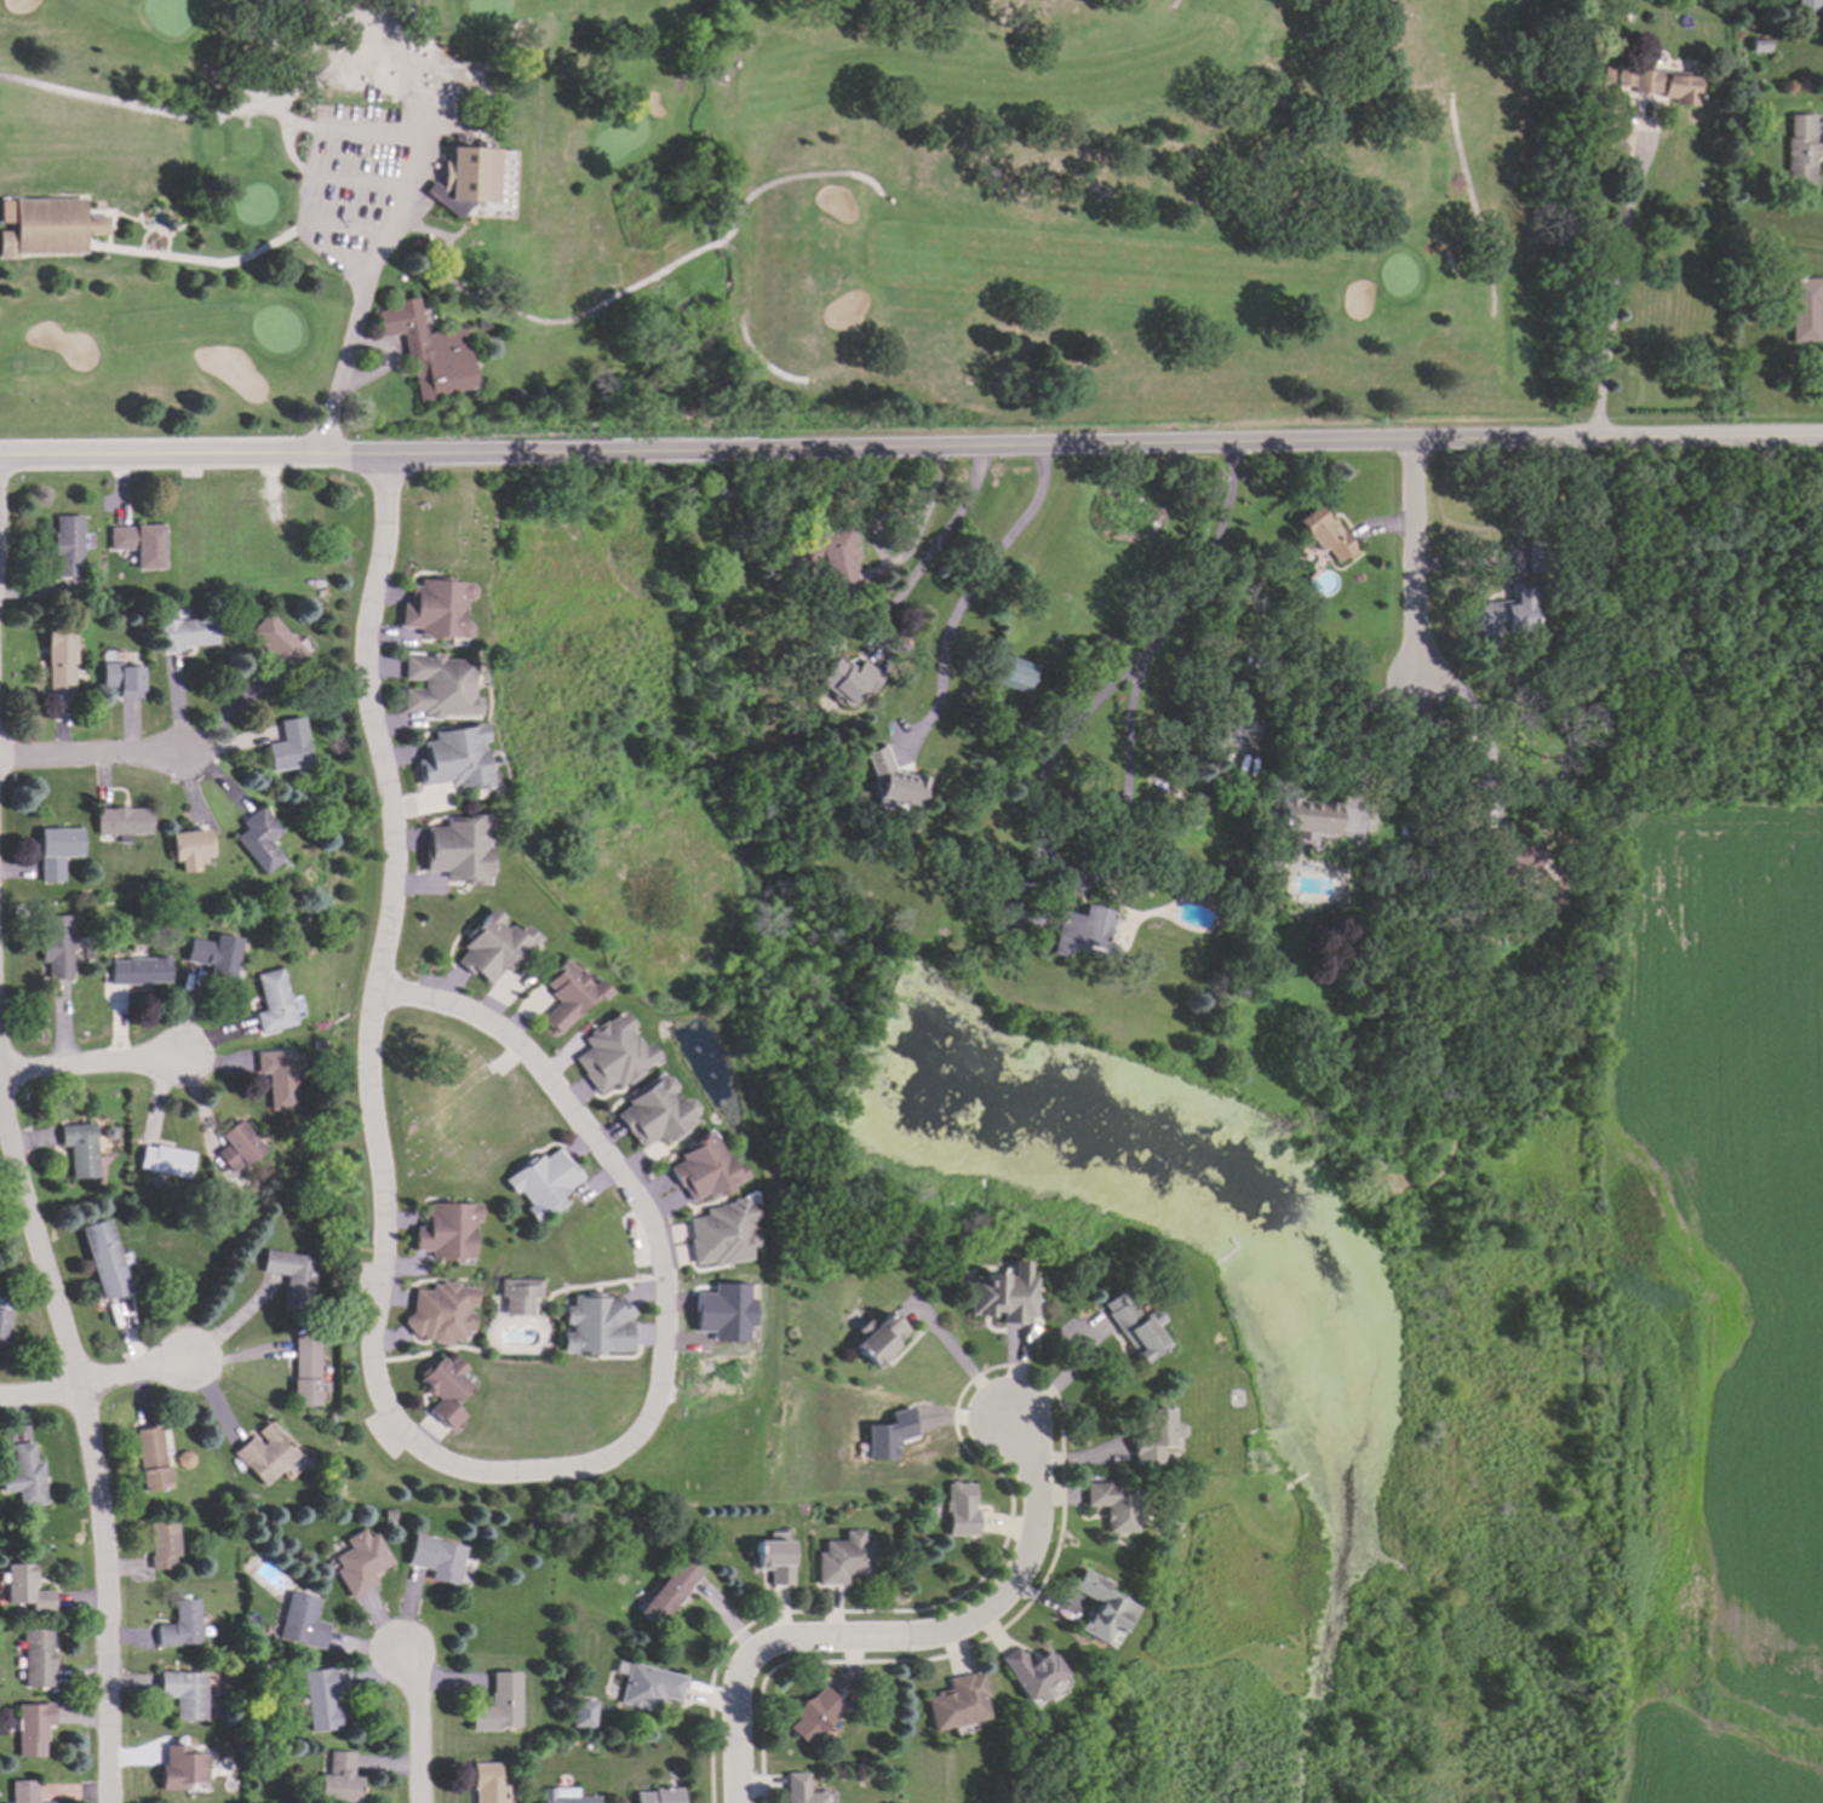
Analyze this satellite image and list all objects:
building: (340, 4)
building: (1800, 4)
building: (1755, 44)
building: (1604, 74)
building: (1658, 82)
building: (435, 98)
building: (460, 113)
road: (408, 119)
building: (1801, 147)
parking lot: (356, 170)
building: (472, 180)
park: (770, 216)
building: (47, 225)
road: (344, 229)
road: (1612, 282)
building: (1801, 308)
building: (423, 349)
road: (1567, 438)
road: (987, 446)
road: (494, 455)
road: (162, 459)
building: (1322, 533)
building: (137, 544)
road: (1412, 544)
building: (63, 545)
road: (927, 550)
building: (1537, 553)
building: (819, 557)
building: (167, 591)
road: (962, 593)
building: (432, 608)
building: (1248, 611)
building: (1500, 614)
building: (182, 632)
building: (275, 647)
building: (57, 658)
building: (1274, 662)
building: (1007, 671)
building: (119, 678)
building: (843, 679)
building: (434, 685)
road: (1388, 694)
road: (1485, 739)
building: (285, 745)
road: (1354, 745)
road: (1045, 757)
road: (91, 758)
building: (449, 758)
building: (887, 782)
building: (812, 814)
building: (1303, 815)
building: (120, 820)
building: (1401, 828)
building: (256, 838)
building: (187, 848)
building: (51, 850)
building: (453, 851)
building: (1500, 854)
building: (1217, 923)
building: (1073, 928)
building: (489, 942)
building: (53, 946)
building: (210, 954)
building: (136, 969)
building: (564, 989)
building: (269, 1001)
building: (316, 1044)
building: (610, 1057)
road: (91, 1072)
building: (276, 1076)
building: (654, 1114)
building: (104, 1133)
building: (235, 1145)
building: (79, 1147)
building: (165, 1159)
building: (699, 1171)
building: (543, 1181)
building: (250, 1183)
building: (443, 1227)
building: (720, 1236)
building: (101, 1259)
building: (289, 1277)
building: (516, 1288)
building: (1002, 1293)
building: (438, 1307)
building: (726, 1313)
building: (597, 1322)
building: (5, 1325)
building: (1131, 1325)
building: (875, 1337)
road: (956, 1359)
building: (303, 1370)
road: (377, 1373)
road: (1060, 1377)
building: (443, 1385)
road: (96, 1389)
building: (889, 1435)
building: (1151, 1435)
road: (82, 1440)
building: (263, 1453)
building: (208, 1454)
building: (150, 1457)
building: (182, 1458)
building: (24, 1476)
building: (1111, 1503)
building: (957, 1510)
building: (386, 1512)
building: (161, 1543)
building: (435, 1557)
building: (841, 1557)
building: (773, 1558)
building: (357, 1561)
building: (24, 1587)
building: (666, 1592)
building: (1097, 1602)
building: (300, 1619)
building: (179, 1623)
road: (895, 1631)
building: (33, 1653)
building: (1027, 1670)
building: (647, 1684)
building: (183, 1693)
building: (321, 1698)
building: (956, 1700)
building: (497, 1702)
building: (580, 1712)
building: (812, 1712)
building: (30, 1726)
road: (413, 1727)
building: (179, 1765)
building: (337, 1780)
building: (485, 1784)
building: (798, 1788)
building: (22, 1791)
building: (655, 1795)
building: (561, 1796)

